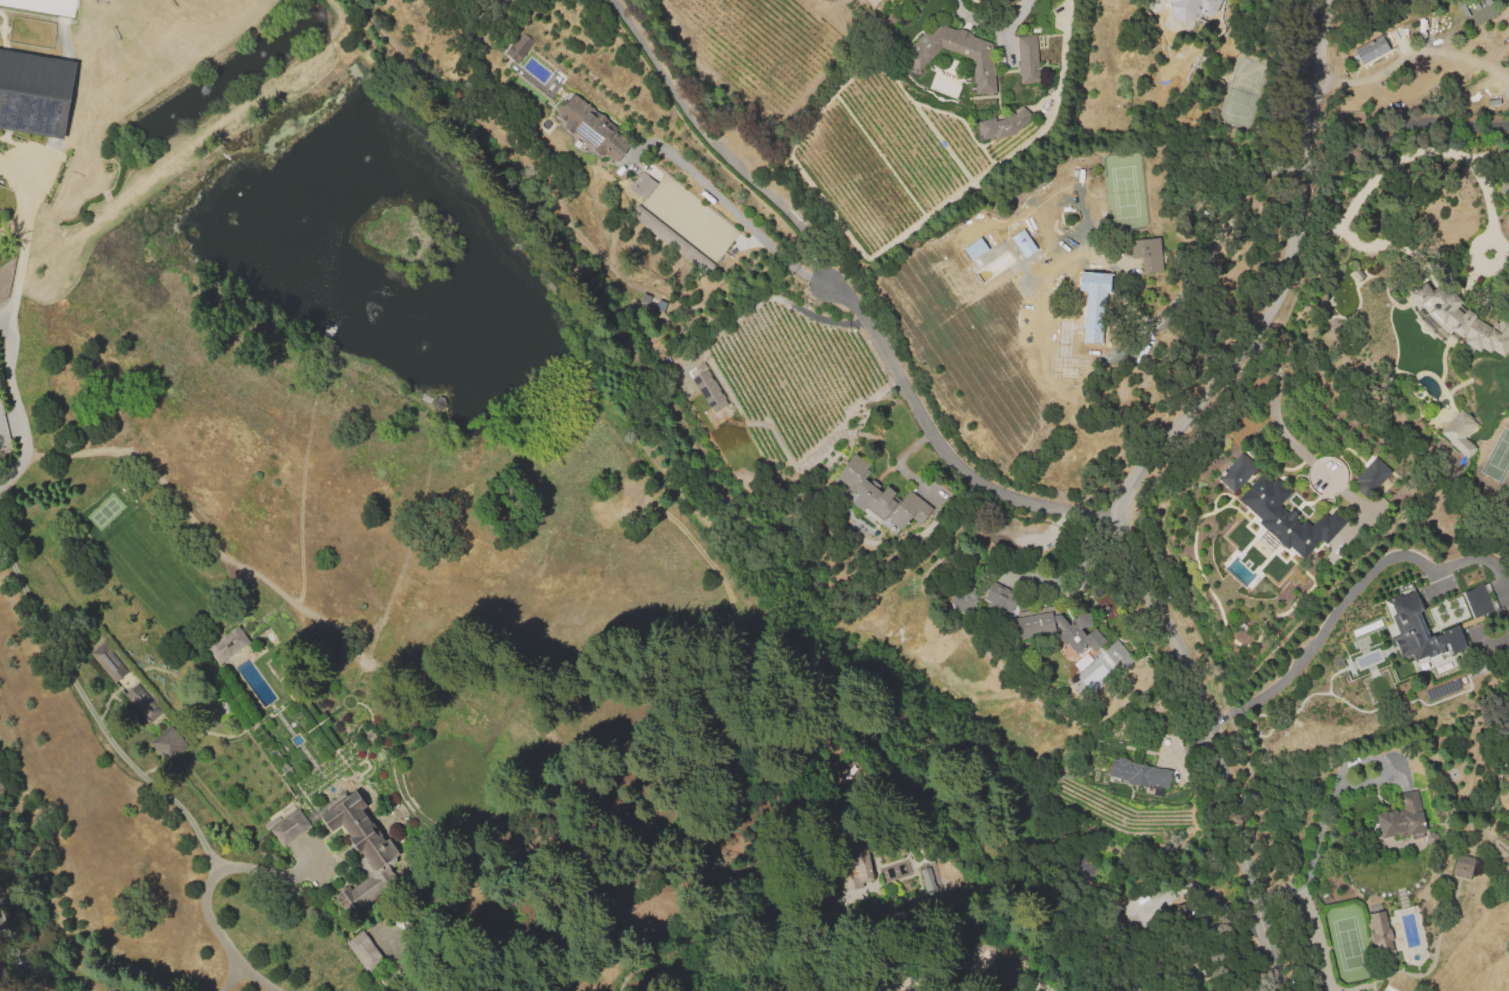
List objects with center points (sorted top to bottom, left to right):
building: (1194, 9)
road: (992, 27)
building: (518, 46)
building: (1373, 53)
road: (1062, 57)
building: (917, 59)
road: (1398, 59)
building: (1030, 62)
road: (1497, 67)
road: (1496, 73)
building: (34, 96)
building: (1005, 126)
building: (593, 130)
road: (718, 148)
road: (1403, 157)
building: (642, 184)
road: (739, 217)
building: (651, 224)
road: (1478, 241)
building: (1147, 253)
road: (778, 300)
road: (9, 317)
building: (1455, 324)
building: (1086, 325)
building: (706, 388)
road: (1275, 412)
building: (1459, 433)
road: (950, 450)
building: (1234, 474)
building: (1369, 477)
road: (1141, 485)
building: (873, 499)
building: (1284, 519)
building: (984, 594)
building: (1471, 604)
road: (1332, 614)
building: (1052, 632)
building: (1417, 632)
building: (223, 647)
building: (1113, 651)
building: (108, 661)
building: (142, 702)
road: (92, 715)
building: (165, 747)
building: (1134, 774)
building: (1402, 818)
road: (1318, 825)
building: (343, 846)
building: (857, 863)
building: (1464, 868)
road: (205, 912)
building: (1179, 912)
road: (1207, 924)
building: (1382, 935)
road: (1314, 940)
road: (16, 947)
building: (365, 952)
road: (410, 965)
building: (1006, 974)
road: (1354, 987)
building: (1354, 990)

